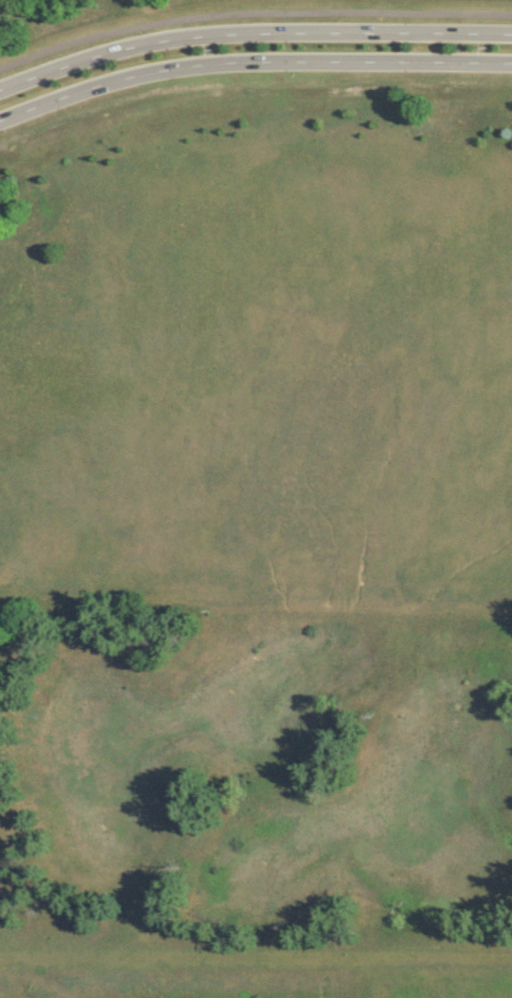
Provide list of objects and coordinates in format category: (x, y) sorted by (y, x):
road: (252, 16)
road: (251, 34)
road: (251, 65)

